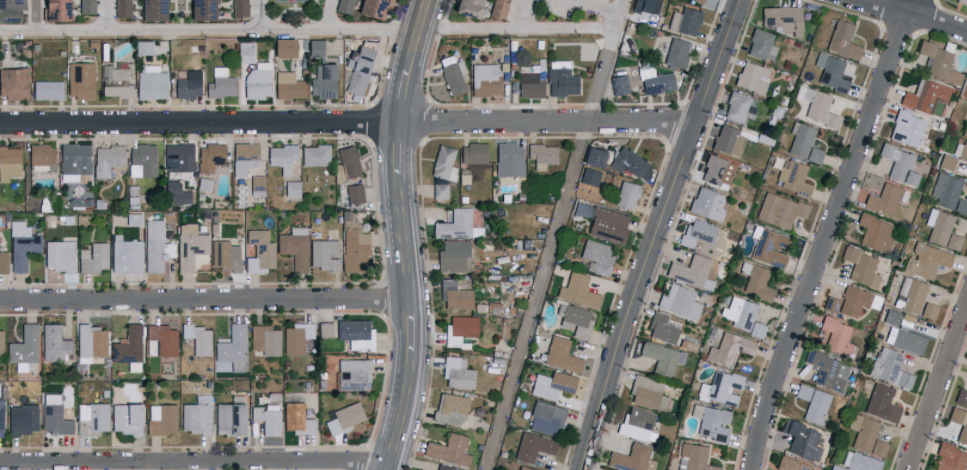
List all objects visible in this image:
park: (295, 0)
building: (700, 1)
building: (962, 2)
building: (87, 6)
building: (344, 6)
road: (601, 6)
building: (239, 7)
building: (464, 7)
building: (56, 8)
building: (122, 8)
building: (371, 8)
building: (499, 8)
building: (9, 9)
building: (151, 9)
building: (200, 9)
building: (44, 13)
road: (526, 14)
road: (915, 14)
road: (37, 15)
road: (110, 15)
road: (263, 15)
road: (328, 15)
building: (783, 18)
building: (685, 21)
road: (306, 31)
building: (842, 40)
building: (761, 44)
building: (143, 46)
building: (281, 47)
building: (315, 47)
building: (245, 51)
building: (676, 53)
building: (938, 62)
building: (358, 69)
building: (831, 71)
building: (452, 74)
building: (752, 77)
building: (562, 78)
building: (80, 79)
building: (486, 80)
building: (654, 80)
building: (115, 81)
building: (322, 81)
building: (13, 82)
building: (151, 83)
building: (221, 83)
building: (257, 83)
building: (189, 84)
building: (531, 84)
building: (619, 84)
building: (288, 85)
building: (47, 89)
building: (924, 95)
building: (740, 107)
building: (820, 108)
road: (346, 121)
building: (906, 128)
building: (965, 130)
building: (726, 139)
building: (805, 144)
building: (963, 152)
building: (473, 153)
building: (541, 153)
building: (314, 155)
building: (592, 156)
building: (41, 157)
building: (178, 157)
building: (210, 157)
building: (244, 157)
building: (281, 157)
building: (144, 158)
building: (509, 158)
building: (107, 159)
building: (348, 161)
building: (947, 161)
building: (9, 162)
building: (74, 162)
building: (443, 163)
building: (630, 163)
building: (899, 164)
building: (718, 171)
building: (589, 177)
building: (791, 178)
building: (291, 188)
building: (439, 191)
building: (354, 193)
building: (949, 193)
building: (627, 194)
building: (885, 198)
building: (707, 203)
building: (780, 210)
building: (454, 224)
building: (606, 224)
building: (942, 229)
building: (697, 232)
building: (876, 232)
road: (653, 233)
road: (828, 233)
road: (404, 234)
road: (552, 234)
building: (354, 244)
building: (22, 245)
building: (156, 246)
building: (189, 246)
building: (295, 247)
building: (771, 247)
building: (258, 250)
building: (325, 254)
building: (60, 255)
building: (126, 255)
building: (225, 255)
building: (454, 255)
building: (596, 256)
building: (94, 257)
building: (926, 260)
building: (4, 261)
building: (861, 266)
building: (692, 271)
building: (578, 290)
building: (454, 295)
building: (914, 296)
road: (204, 298)
building: (857, 300)
building: (680, 301)
building: (832, 303)
building: (929, 310)
building: (743, 316)
building: (576, 320)
building: (661, 328)
building: (326, 329)
building: (459, 329)
building: (355, 333)
building: (836, 335)
building: (297, 337)
building: (163, 338)
building: (197, 338)
building: (265, 339)
building: (905, 339)
building: (1, 342)
building: (55, 342)
building: (91, 342)
building: (25, 347)
building: (232, 347)
building: (129, 348)
building: (729, 348)
building: (560, 355)
building: (661, 357)
building: (886, 364)
building: (828, 370)
building: (352, 373)
building: (457, 373)
building: (904, 379)
building: (552, 384)
building: (720, 387)
building: (802, 391)
road: (938, 391)
building: (647, 392)
building: (961, 397)
building: (882, 403)
building: (453, 404)
building: (816, 407)
building: (53, 415)
building: (196, 415)
building: (97, 417)
building: (344, 417)
building: (0, 418)
building: (125, 418)
building: (160, 418)
building: (229, 418)
building: (268, 418)
building: (545, 418)
building: (21, 419)
building: (297, 419)
building: (959, 423)
building: (637, 424)
building: (714, 424)
building: (866, 435)
building: (801, 440)
building: (532, 446)
building: (448, 449)
building: (632, 458)
building: (694, 458)
building: (950, 458)
road: (192, 460)
building: (860, 461)
building: (791, 464)
building: (440, 468)
building: (523, 468)
building: (774, 469)

